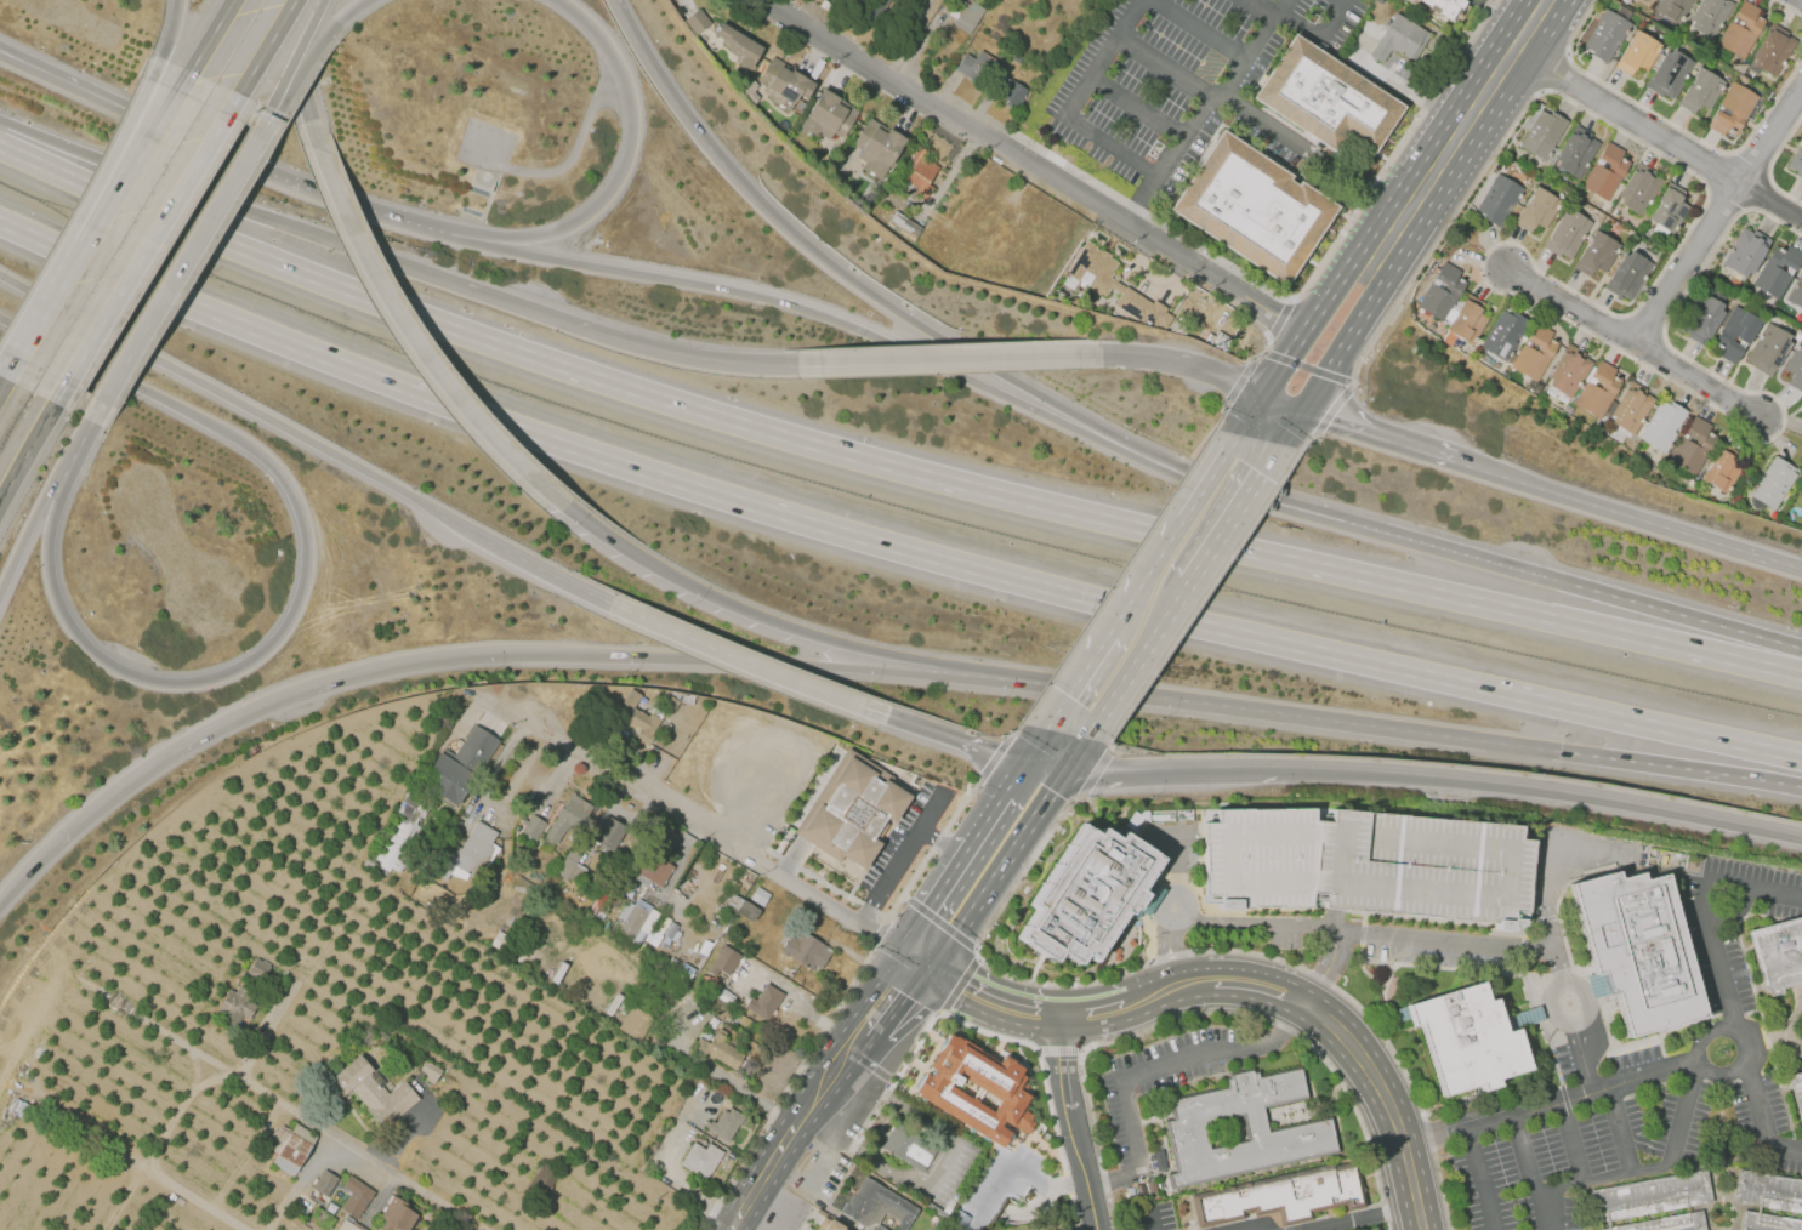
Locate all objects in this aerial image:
building: (834, 0)
building: (1410, 0)
building: (1645, 0)
road: (619, 7)
road: (1262, 7)
building: (1443, 7)
road: (1789, 7)
building: (1672, 8)
building: (1710, 17)
building: (697, 21)
road: (1201, 29)
building: (1743, 29)
road: (1319, 33)
building: (1608, 33)
road: (324, 38)
road: (167, 39)
road: (303, 39)
building: (1399, 39)
road: (915, 42)
road: (205, 45)
building: (737, 47)
building: (1773, 50)
building: (1638, 53)
road: (1102, 56)
road: (261, 57)
road: (8, 58)
road: (8, 59)
building: (977, 64)
road: (1553, 70)
building: (1669, 73)
building: (1743, 79)
building: (783, 86)
road: (72, 89)
parking lot: (1188, 89)
building: (1700, 91)
building: (1013, 92)
road: (670, 93)
road: (274, 97)
building: (1329, 97)
road: (1137, 107)
road: (1203, 109)
building: (1733, 109)
road: (1626, 116)
road: (312, 119)
road: (131, 120)
building: (828, 120)
road: (261, 121)
road: (1669, 121)
road: (1260, 125)
road: (1463, 126)
road: (153, 130)
building: (1542, 132)
road: (1112, 146)
building: (875, 149)
building: (1576, 152)
building: (1797, 161)
road: (565, 163)
road: (1773, 164)
road: (1034, 167)
building: (921, 171)
building: (1607, 171)
road: (275, 178)
road: (616, 178)
building: (1563, 180)
road: (170, 182)
building: (1544, 184)
building: (1639, 188)
building: (1500, 200)
road: (103, 203)
road: (1769, 203)
building: (1254, 207)
building: (1670, 209)
building: (1537, 210)
road: (1719, 213)
building: (910, 229)
building: (1567, 233)
traffic signals: (342, 243)
building: (1745, 252)
building: (1597, 255)
road: (1529, 256)
road: (141, 258)
road: (394, 261)
road: (177, 262)
building: (1429, 269)
building: (1778, 269)
building: (1627, 275)
building: (1116, 286)
building: (1443, 292)
building: (1796, 294)
road: (1289, 295)
road: (46, 298)
road: (781, 302)
road: (1576, 304)
road: (1279, 314)
building: (1422, 315)
road: (909, 318)
building: (1701, 318)
building: (1467, 321)
road: (407, 332)
building: (1735, 332)
building: (1505, 334)
road: (1268, 337)
road: (1304, 338)
road: (629, 342)
building: (1769, 349)
road: (1266, 352)
road: (1338, 352)
building: (1536, 352)
road: (1031, 354)
road: (1283, 358)
road: (902, 359)
road: (1173, 361)
road: (1306, 366)
road: (6, 368)
building: (1795, 368)
building: (1568, 372)
road: (1332, 375)
road: (1240, 381)
road: (1702, 381)
road: (1354, 382)
road: (209, 387)
building: (1599, 392)
traffic signals: (1263, 399)
road: (1281, 406)
road: (1334, 408)
building: (1568, 409)
building: (1632, 409)
traffic signals: (1301, 414)
building: (1664, 425)
building: (1615, 434)
road: (1315, 435)
road: (1312, 437)
road: (1376, 437)
road: (76, 438)
building: (1694, 446)
road: (27, 451)
road: (883, 462)
building: (1724, 471)
road: (1212, 477)
building: (1773, 483)
road: (1224, 486)
road: (1235, 513)
road: (1627, 513)
road: (24, 534)
road: (883, 543)
road: (522, 558)
road: (1126, 564)
road: (1147, 575)
road: (1562, 581)
road: (300, 591)
road: (1205, 594)
road: (741, 609)
road: (1791, 645)
road: (663, 656)
road: (1138, 659)
road: (746, 662)
road: (1078, 681)
building: (641, 716)
road: (1336, 719)
road: (1013, 731)
road: (191, 735)
road: (954, 738)
road: (1045, 747)
road: (1114, 748)
road: (1067, 751)
traffic signals: (1563, 752)
building: (460, 765)
road: (990, 765)
traffic signals: (1045, 767)
road: (521, 769)
road: (1230, 769)
road: (1113, 771)
road: (1096, 773)
road: (563, 774)
parking lot: (761, 779)
road: (1752, 779)
road: (1542, 790)
road: (762, 795)
road: (1017, 807)
building: (854, 812)
road: (932, 813)
building: (569, 816)
building: (534, 825)
road: (704, 826)
building: (400, 832)
building: (612, 833)
road: (1171, 835)
parking lot: (904, 843)
road: (950, 847)
building: (466, 852)
road: (792, 855)
road: (984, 856)
road: (684, 861)
road: (1178, 862)
building: (1368, 864)
parking lot: (1368, 864)
building: (376, 867)
building: (572, 867)
building: (654, 871)
parking lot: (1753, 871)
road: (23, 872)
road: (892, 875)
parking lot: (1690, 884)
building: (1092, 893)
building: (761, 895)
road: (1190, 902)
building: (745, 907)
road: (1702, 909)
parking lot: (1778, 909)
road: (891, 912)
road: (947, 912)
building: (637, 922)
road: (1261, 922)
road: (883, 928)
road: (1550, 935)
building: (502, 940)
road: (1446, 941)
road: (970, 945)
building: (807, 950)
building: (1637, 950)
road: (1170, 951)
road: (1193, 952)
building: (1778, 953)
parking lot: (1443, 957)
parking lot: (1700, 957)
building: (726, 959)
traffic signals: (917, 959)
road: (1332, 959)
parking lot: (1739, 967)
building: (260, 969)
road: (1258, 983)
road: (1169, 986)
road: (891, 995)
road: (984, 996)
building: (766, 1001)
building: (238, 1004)
road: (803, 1006)
building: (722, 1008)
road: (1093, 1010)
building: (35, 1012)
road: (1209, 1012)
road: (1573, 1019)
building: (637, 1024)
road: (1716, 1027)
road: (984, 1031)
building: (1471, 1037)
building: (721, 1048)
road: (1062, 1049)
road: (1582, 1057)
parking lot: (1635, 1057)
road: (1062, 1061)
parking lot: (1567, 1061)
road: (1150, 1070)
building: (430, 1071)
road: (721, 1074)
road: (829, 1076)
road: (217, 1081)
road: (789, 1087)
building: (978, 1089)
building: (368, 1091)
building: (1796, 1093)
road: (273, 1095)
road: (1386, 1100)
parking lot: (1775, 1103)
road: (1552, 1105)
road: (1760, 1121)
parking lot: (1698, 1123)
building: (726, 1124)
building: (1313, 1127)
road: (1620, 1129)
parking lot: (1758, 1134)
road: (161, 1139)
road: (1571, 1143)
building: (289, 1146)
building: (909, 1148)
building: (703, 1158)
parking lot: (1563, 1161)
road: (943, 1167)
road: (1654, 1167)
road: (1021, 1168)
road: (1085, 1168)
parking lot: (957, 1173)
road: (1531, 1173)
road: (763, 1175)
road: (1479, 1179)
building: (544, 1180)
building: (324, 1183)
parking lot: (1000, 1183)
road: (681, 1184)
parking lot: (808, 1186)
building: (1153, 1186)
building: (1768, 1190)
building: (1652, 1195)
building: (356, 1196)
building: (1284, 1196)
road: (194, 1200)
building: (879, 1206)
road: (1031, 1209)
building: (397, 1215)
road: (1363, 1217)
road: (1149, 1222)
building: (1768, 1222)
building: (1667, 1223)
building: (346, 1225)
building: (834, 1225)
road: (1261, 1228)

